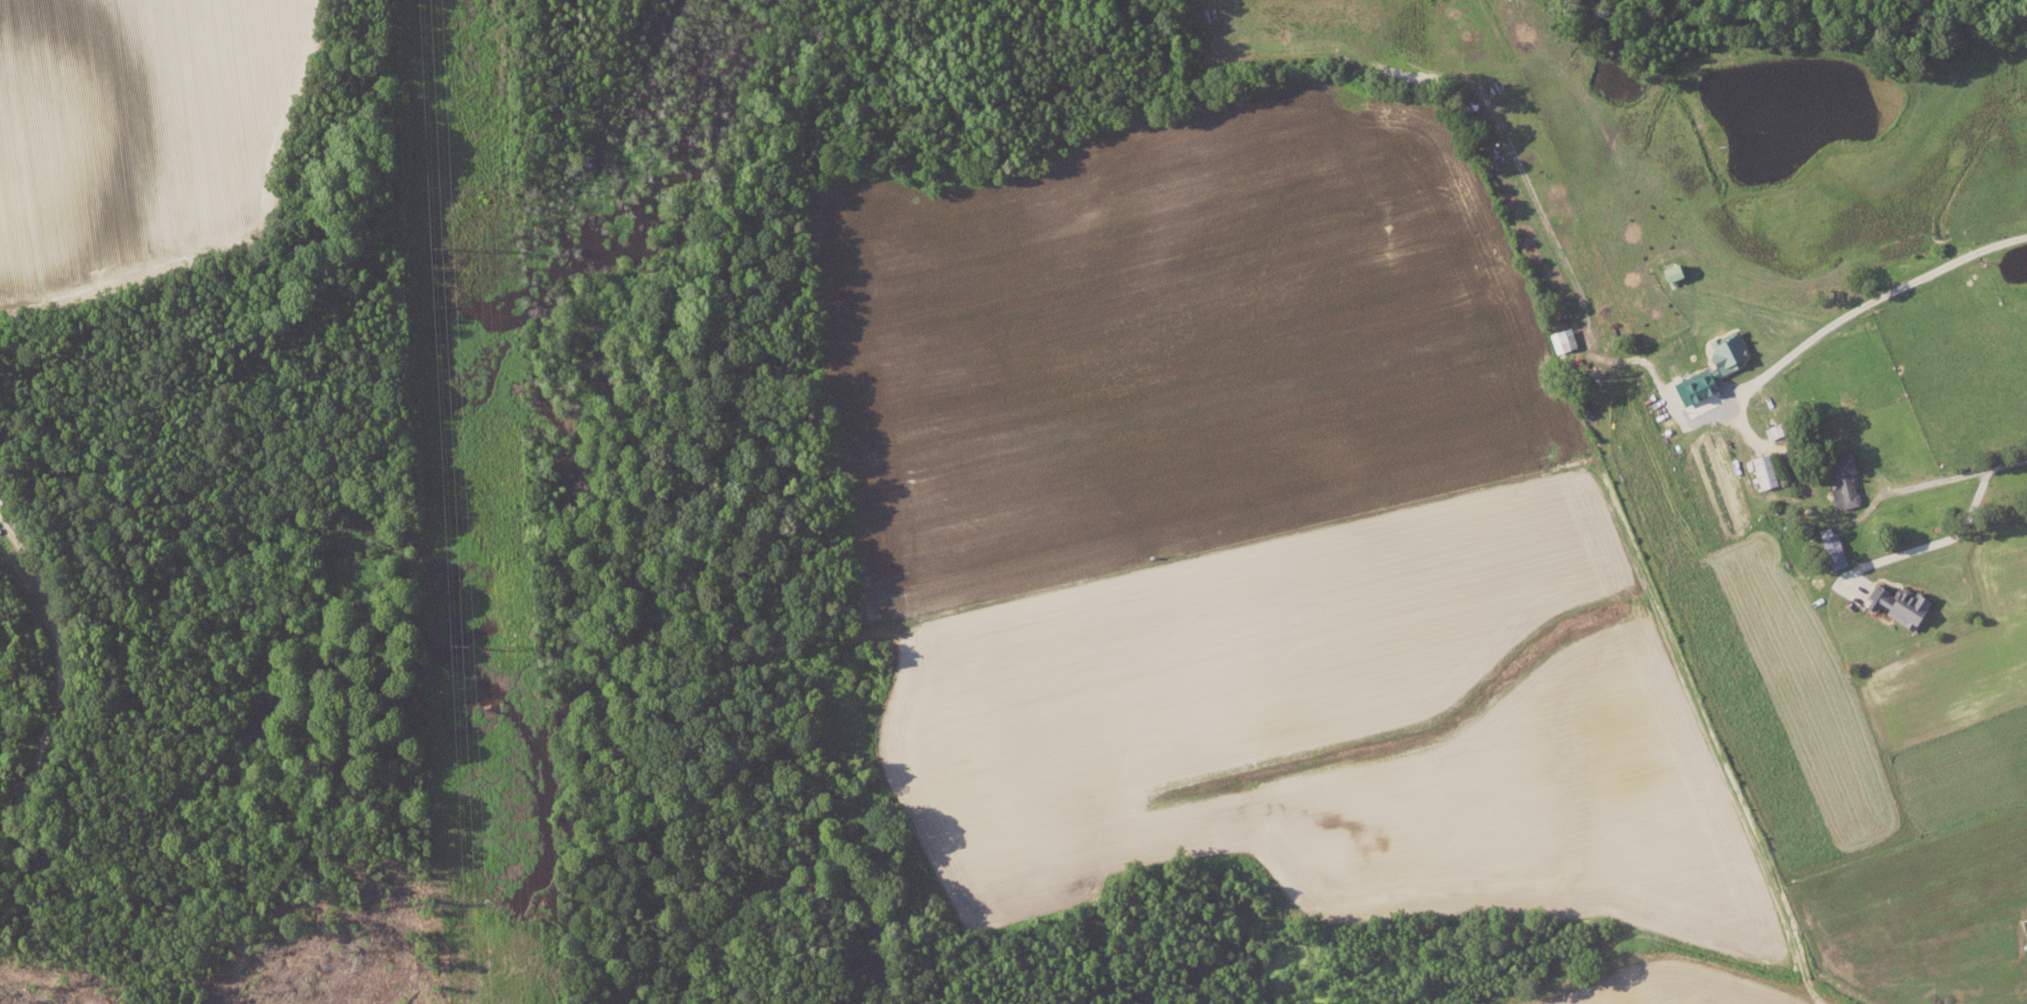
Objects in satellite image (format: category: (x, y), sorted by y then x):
power tower: (447, 247)
power tower: (484, 250)
building: (1666, 271)
road: (1865, 303)
building: (1724, 350)
building: (1762, 470)
road: (1954, 475)
building: (1841, 479)
road: (1933, 541)
building: (1831, 549)
building: (1895, 603)
power tower: (471, 643)
power tower: (509, 643)

